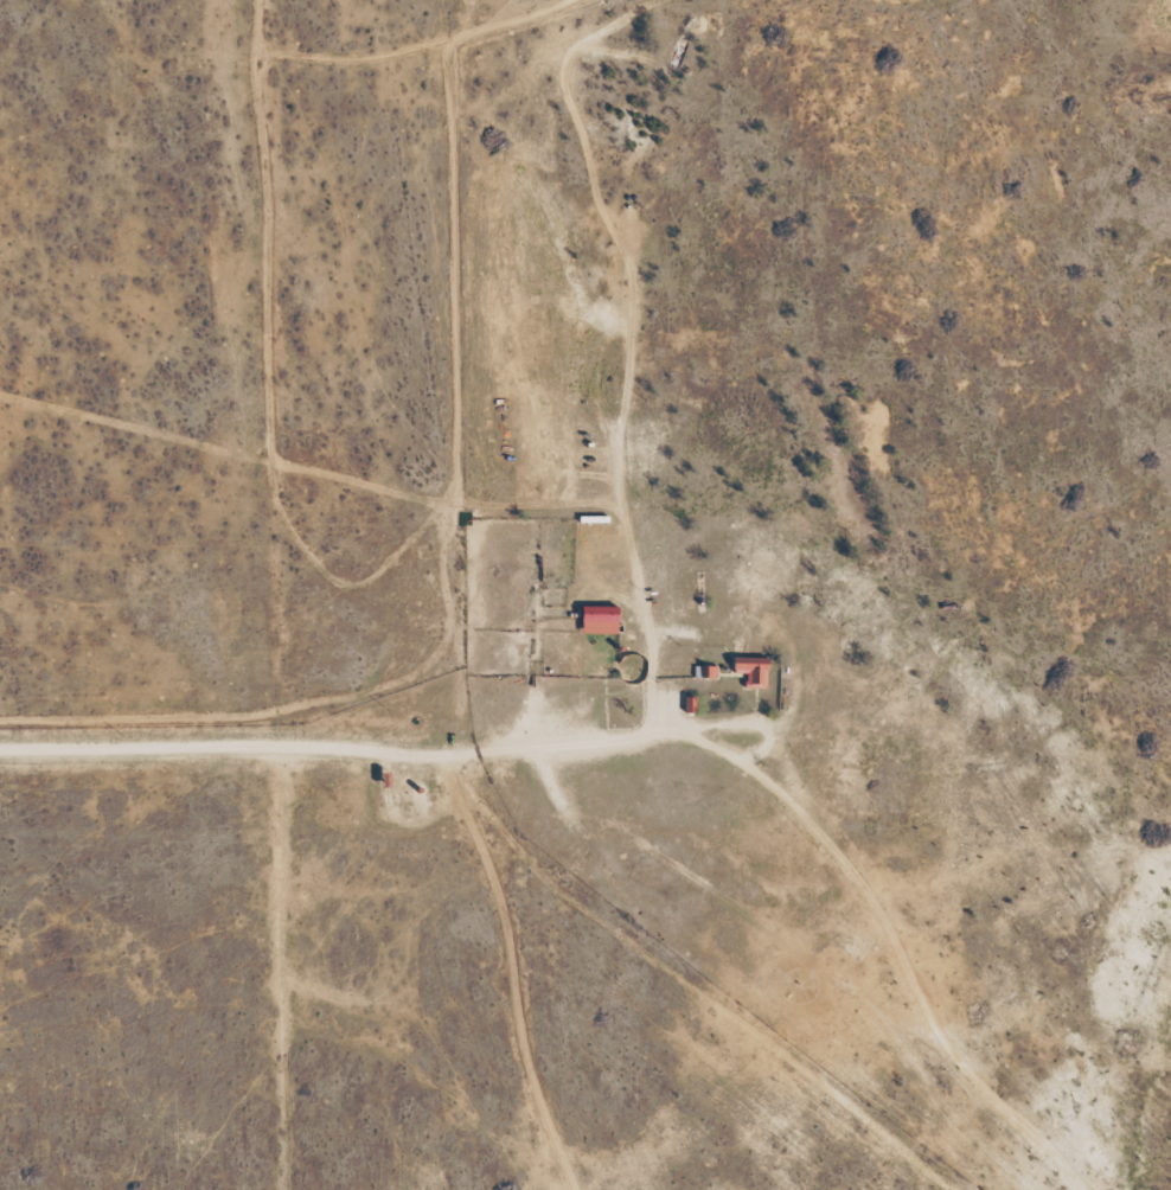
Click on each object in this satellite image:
road: (631, 757)
road: (561, 957)

